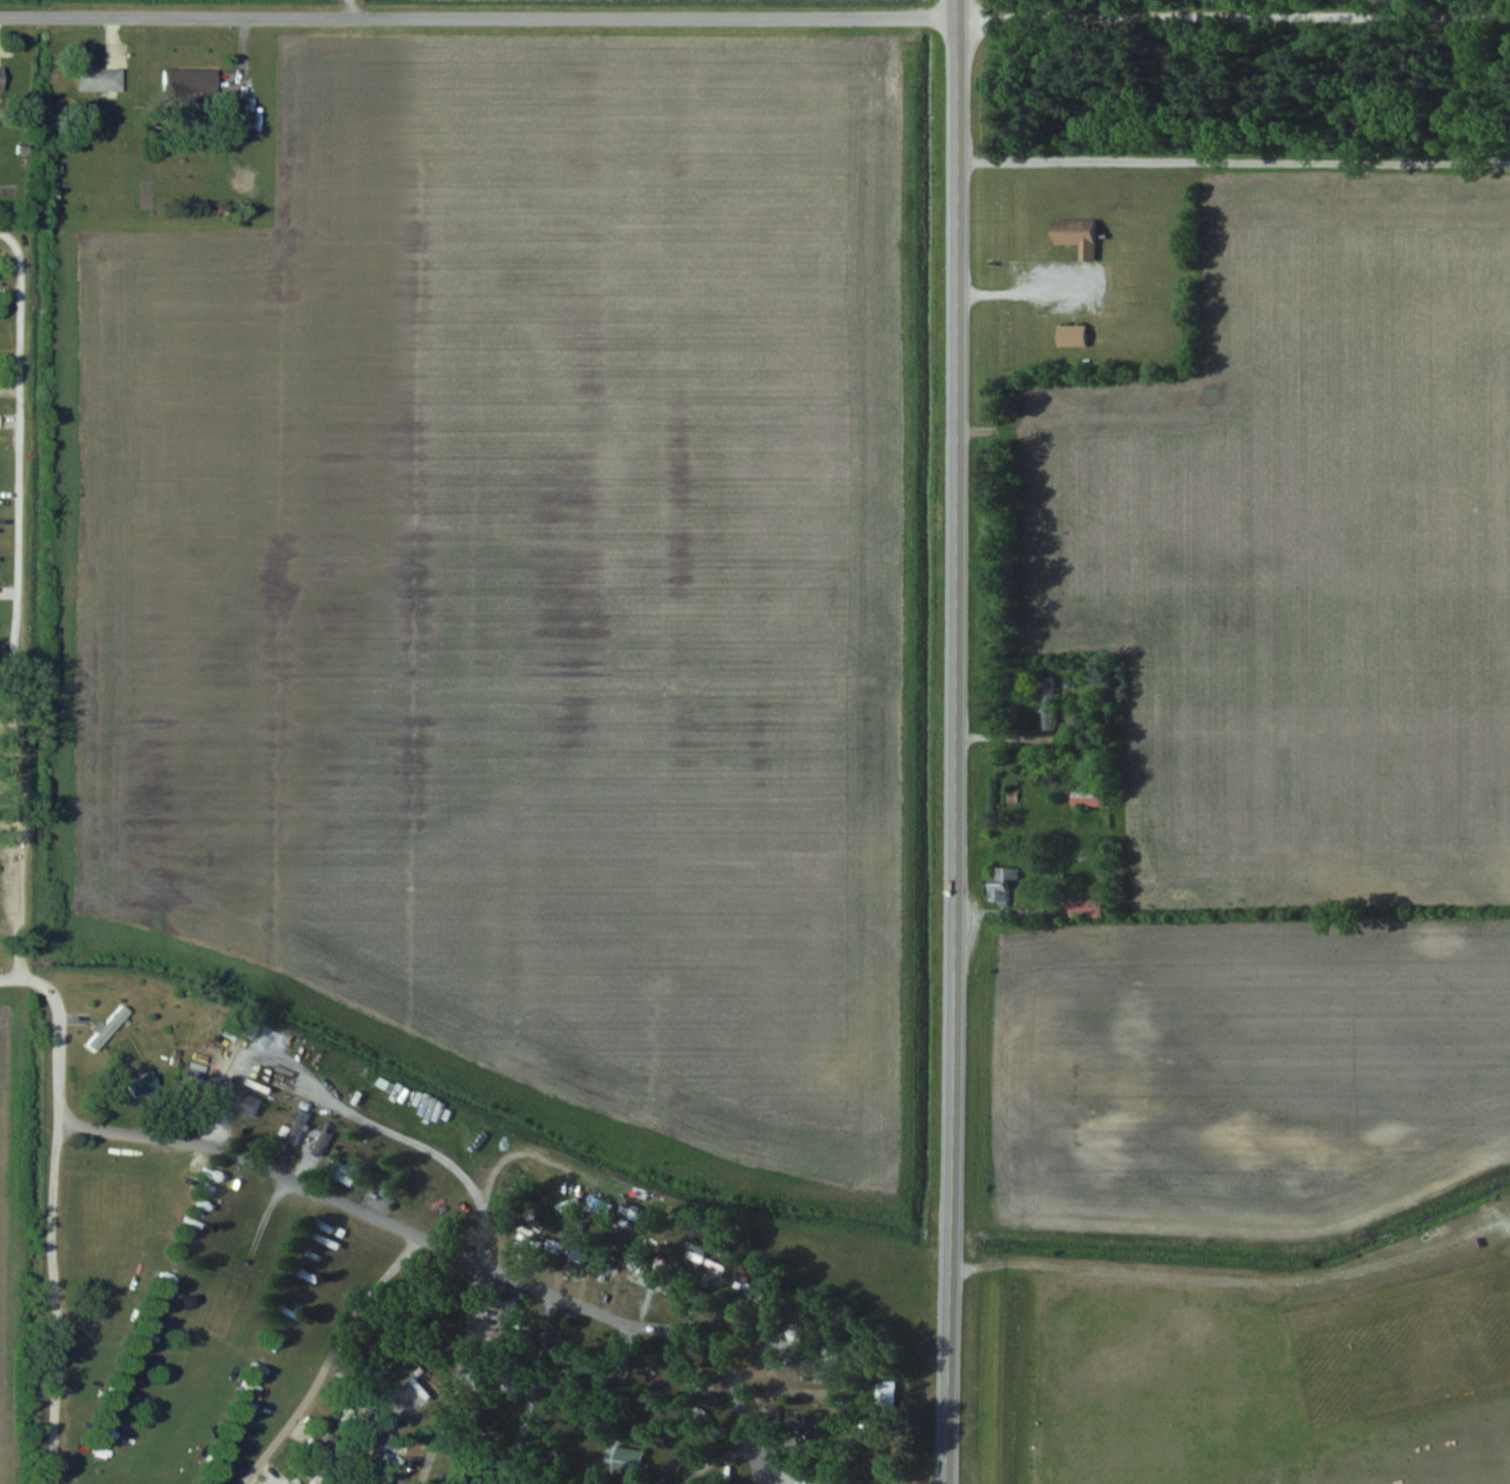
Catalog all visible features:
road: (352, 7)
road: (954, 9)
road: (477, 15)
road: (1232, 16)
building: (1, 78)
building: (98, 79)
building: (189, 80)
building: (1078, 236)
road: (1027, 293)
building: (1072, 335)
crop: (536, 585)
building: (1048, 702)
road: (1034, 738)
road: (952, 751)
building: (1087, 796)
building: (1001, 883)
building: (1082, 907)
road: (1231, 910)
building: (108, 1025)
building: (142, 1084)
building: (247, 1103)
building: (297, 1128)
building: (341, 1171)
road: (458, 1251)
building: (632, 1261)
building: (885, 1398)
building: (628, 1462)
building: (834, 1482)

